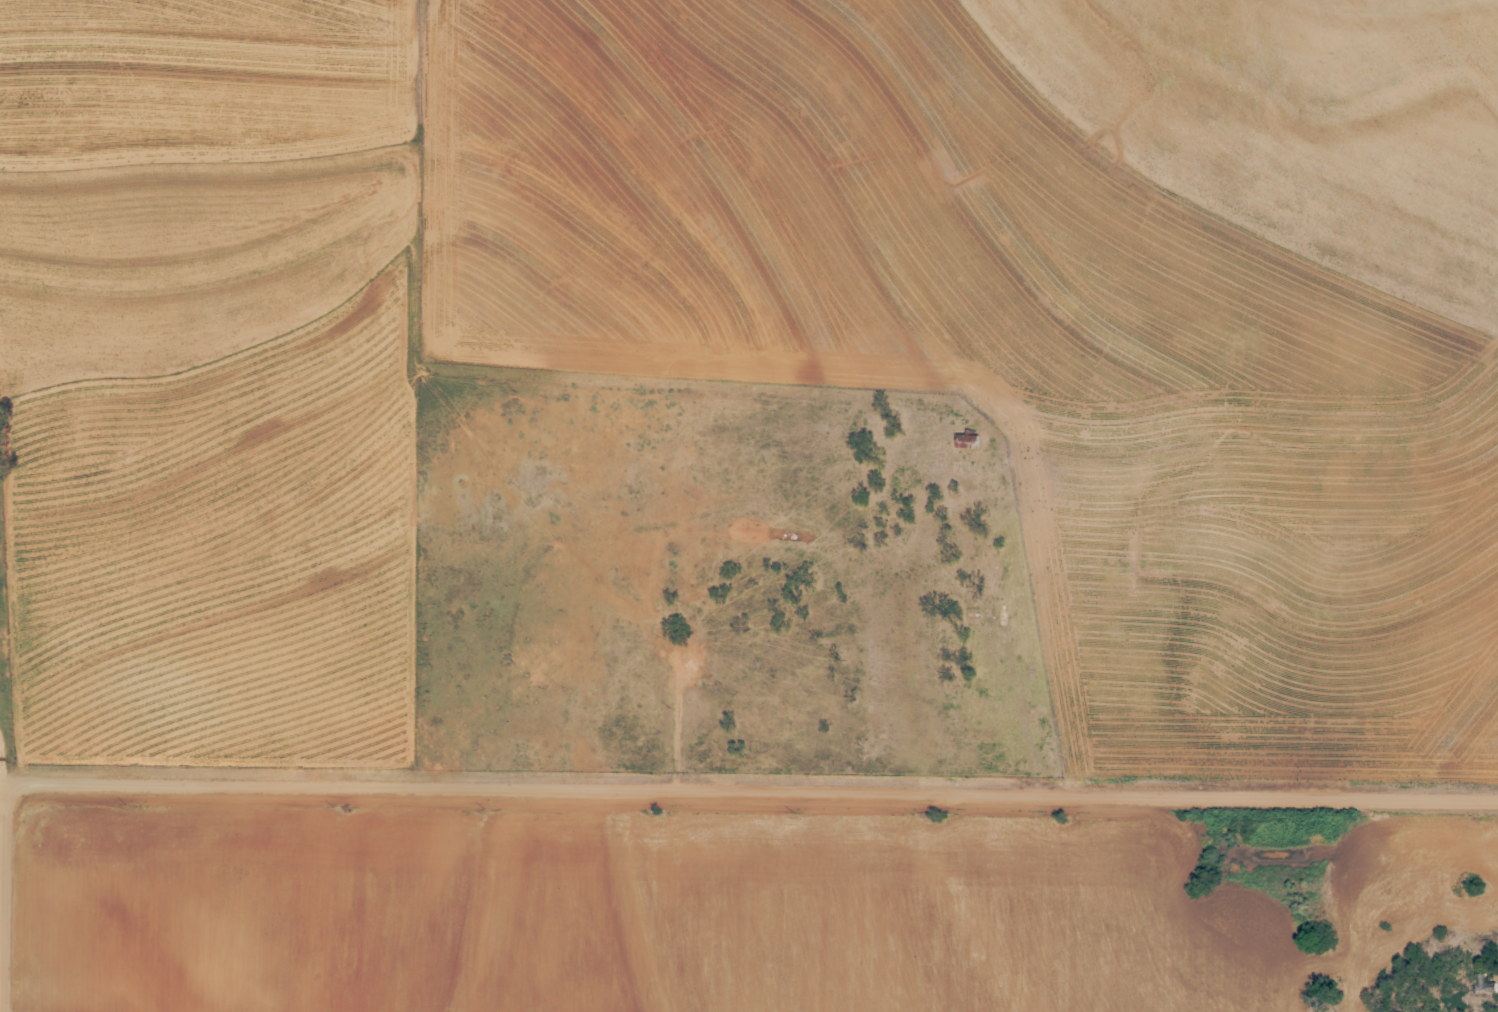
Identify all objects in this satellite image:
road: (6, 735)
road: (749, 784)
road: (6, 893)

